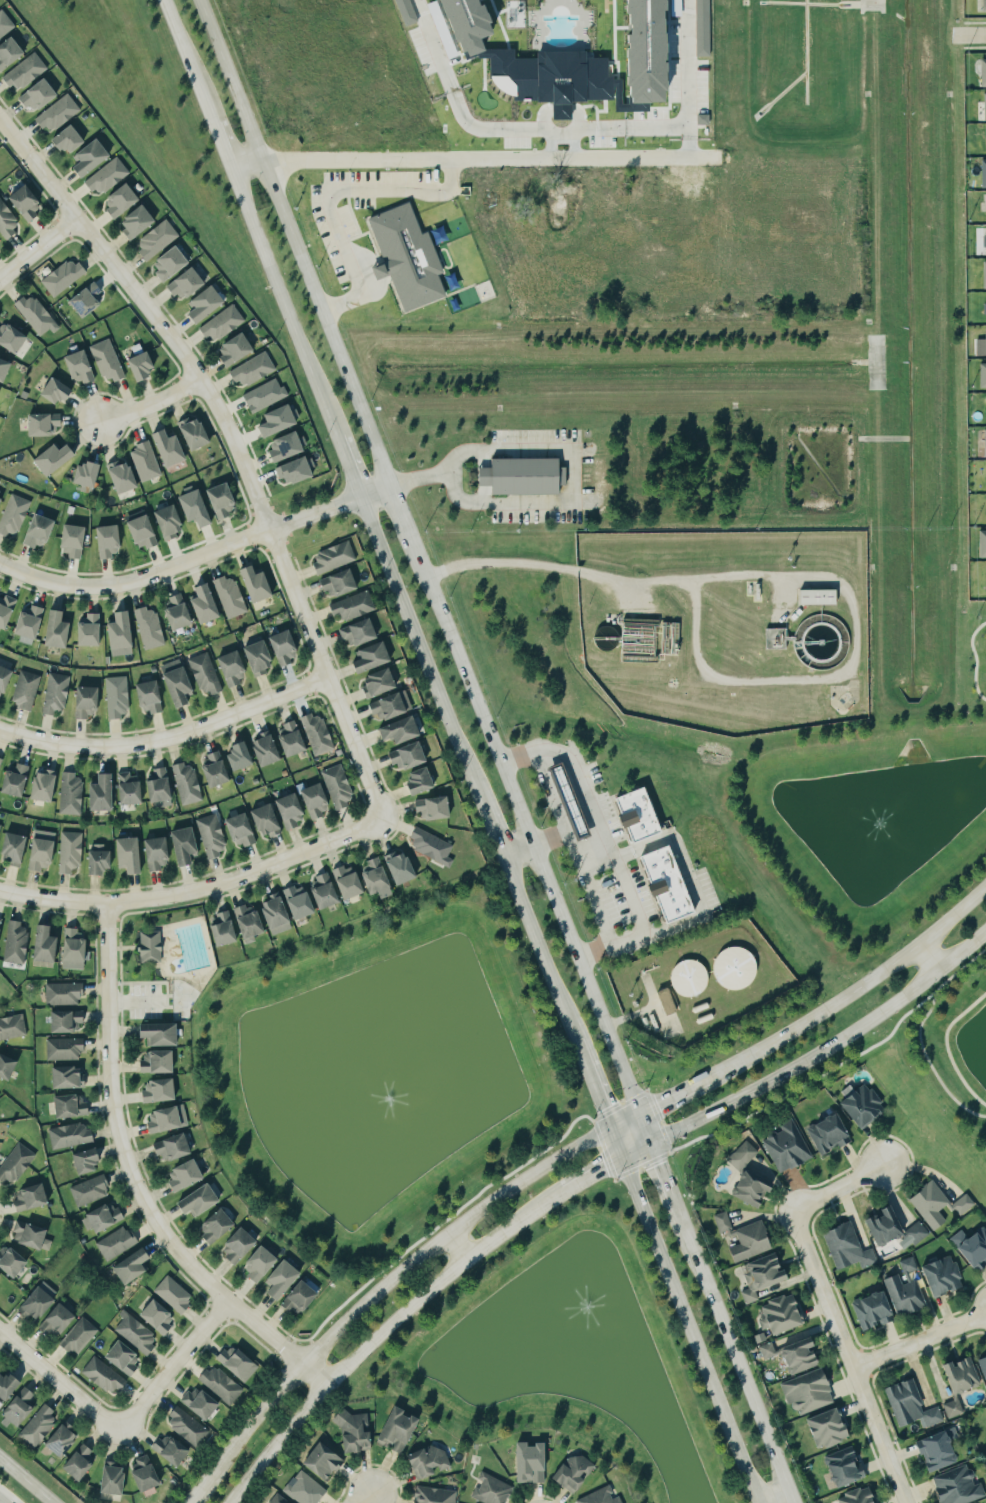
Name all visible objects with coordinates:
building: (982, 5)
building: (405, 12)
building: (466, 23)
building: (6, 25)
building: (701, 27)
road: (976, 33)
building: (645, 50)
building: (11, 54)
road: (184, 58)
road: (685, 65)
building: (981, 72)
building: (27, 73)
building: (42, 96)
building: (983, 105)
building: (59, 114)
building: (705, 120)
road: (507, 131)
building: (985, 139)
building: (73, 140)
road: (217, 140)
building: (0, 153)
road: (486, 158)
building: (94, 159)
road: (241, 160)
building: (982, 173)
building: (110, 177)
road: (331, 194)
building: (124, 202)
building: (29, 204)
building: (983, 206)
building: (8, 221)
building: (140, 223)
building: (0, 238)
building: (159, 240)
building: (983, 240)
road: (290, 242)
road: (38, 247)
building: (406, 257)
building: (173, 265)
building: (983, 274)
building: (62, 277)
building: (189, 285)
building: (89, 300)
road: (281, 300)
building: (209, 305)
building: (984, 307)
building: (38, 315)
building: (225, 324)
building: (13, 338)
building: (984, 341)
building: (238, 350)
building: (108, 361)
building: (139, 366)
building: (82, 368)
building: (6, 370)
building: (255, 370)
building: (981, 375)
building: (54, 391)
building: (1, 394)
building: (267, 396)
road: (152, 403)
building: (984, 408)
building: (282, 422)
building: (42, 424)
building: (198, 434)
building: (983, 442)
road: (234, 445)
building: (289, 448)
building: (173, 450)
building: (57, 460)
building: (147, 463)
road: (346, 466)
building: (299, 472)
building: (985, 474)
building: (90, 476)
building: (125, 476)
road: (415, 477)
building: (524, 477)
road: (574, 477)
building: (225, 502)
building: (1, 503)
building: (193, 508)
building: (984, 510)
road: (397, 515)
building: (15, 516)
building: (172, 523)
building: (42, 532)
building: (146, 533)
building: (76, 542)
building: (111, 542)
building: (981, 544)
road: (195, 557)
building: (336, 558)
road: (525, 564)
building: (983, 576)
building: (343, 584)
building: (260, 586)
building: (232, 597)
building: (817, 597)
building: (209, 606)
building: (355, 607)
building: (7, 612)
building: (181, 613)
building: (33, 623)
building: (151, 628)
building: (93, 631)
building: (60, 632)
building: (362, 634)
building: (124, 636)
building: (774, 638)
road: (851, 639)
building: (287, 648)
park: (976, 653)
building: (376, 658)
building: (263, 659)
building: (235, 669)
building: (206, 674)
building: (6, 680)
building: (180, 683)
building: (382, 684)
building: (27, 690)
building: (58, 694)
building: (119, 697)
building: (152, 698)
building: (89, 703)
building: (392, 707)
building: (404, 732)
building: (320, 735)
building: (295, 739)
road: (165, 740)
building: (268, 749)
building: (243, 757)
building: (411, 758)
building: (1, 763)
road: (466, 769)
building: (217, 771)
building: (17, 781)
building: (424, 782)
building: (189, 784)
building: (46, 787)
building: (161, 787)
building: (340, 787)
building: (132, 790)
road: (548, 792)
building: (72, 793)
building: (105, 795)
building: (568, 801)
building: (318, 802)
building: (436, 810)
building: (293, 811)
building: (636, 815)
building: (269, 822)
fountain: (887, 823)
building: (0, 827)
building: (243, 832)
building: (213, 837)
road: (607, 844)
road: (528, 845)
building: (188, 848)
building: (434, 848)
building: (16, 849)
building: (44, 850)
road: (514, 851)
building: (72, 852)
building: (159, 854)
building: (132, 856)
building: (101, 861)
building: (404, 869)
road: (579, 871)
road: (687, 874)
building: (380, 878)
building: (352, 883)
building: (666, 885)
road: (193, 888)
building: (328, 892)
building: (303, 905)
building: (279, 914)
building: (252, 924)
building: (1, 928)
building: (226, 931)
building: (18, 944)
building: (48, 947)
building: (152, 948)
building: (76, 951)
road: (928, 957)
park: (161, 961)
building: (733, 967)
building: (688, 978)
road: (856, 991)
building: (65, 994)
building: (665, 1002)
building: (670, 1003)
building: (68, 1022)
building: (13, 1028)
building: (163, 1035)
road: (948, 1047)
building: (66, 1049)
road: (811, 1057)
building: (161, 1062)
building: (8, 1067)
building: (69, 1077)
road: (592, 1086)
fountain: (391, 1088)
building: (162, 1091)
road: (673, 1097)
building: (865, 1105)
building: (73, 1107)
building: (0, 1110)
traffic signals: (635, 1117)
building: (169, 1119)
road: (622, 1123)
traffic signals: (609, 1129)
building: (833, 1135)
building: (71, 1136)
building: (176, 1148)
traffic signals: (647, 1148)
building: (791, 1148)
building: (745, 1156)
building: (90, 1161)
traffic signals: (622, 1161)
building: (17, 1164)
building: (188, 1176)
road: (594, 1177)
road: (659, 1179)
road: (131, 1184)
road: (837, 1188)
building: (756, 1189)
building: (91, 1190)
building: (34, 1197)
building: (203, 1201)
building: (940, 1205)
building: (104, 1218)
building: (726, 1223)
building: (219, 1225)
building: (897, 1230)
building: (34, 1236)
building: (961, 1239)
building: (754, 1242)
building: (117, 1243)
road: (459, 1243)
building: (242, 1246)
building: (850, 1248)
building: (977, 1249)
building: (13, 1261)
building: (263, 1264)
building: (135, 1266)
building: (911, 1268)
building: (1, 1277)
building: (765, 1277)
building: (946, 1277)
building: (286, 1279)
fountain: (564, 1289)
road: (376, 1290)
building: (176, 1295)
building: (907, 1296)
building: (303, 1299)
building: (39, 1304)
building: (877, 1312)
road: (683, 1315)
building: (160, 1317)
building: (59, 1322)
building: (780, 1322)
road: (383, 1332)
building: (138, 1334)
building: (81, 1336)
road: (919, 1339)
road: (729, 1356)
building: (805, 1356)
road: (848, 1356)
building: (126, 1358)
building: (240, 1363)
building: (984, 1364)
road: (170, 1365)
building: (106, 1376)
building: (964, 1376)
road: (58, 1380)
building: (221, 1385)
building: (9, 1386)
building: (811, 1393)
building: (203, 1403)
building: (914, 1406)
building: (956, 1409)
building: (40, 1427)
building: (190, 1427)
building: (831, 1429)
building: (401, 1430)
building: (357, 1432)
building: (64, 1441)
building: (174, 1450)
building: (941, 1452)
building: (82, 1462)
building: (326, 1462)
building: (432, 1462)
building: (529, 1463)
building: (848, 1467)
building: (577, 1473)
building: (148, 1474)
road: (25, 1480)
building: (115, 1480)
building: (961, 1486)
building: (306, 1489)
building: (494, 1490)
building: (435, 1495)
road: (769, 1496)
building: (862, 1496)
building: (602, 1497)
road: (365, 1498)
building: (280, 1499)
road: (1, 1501)

